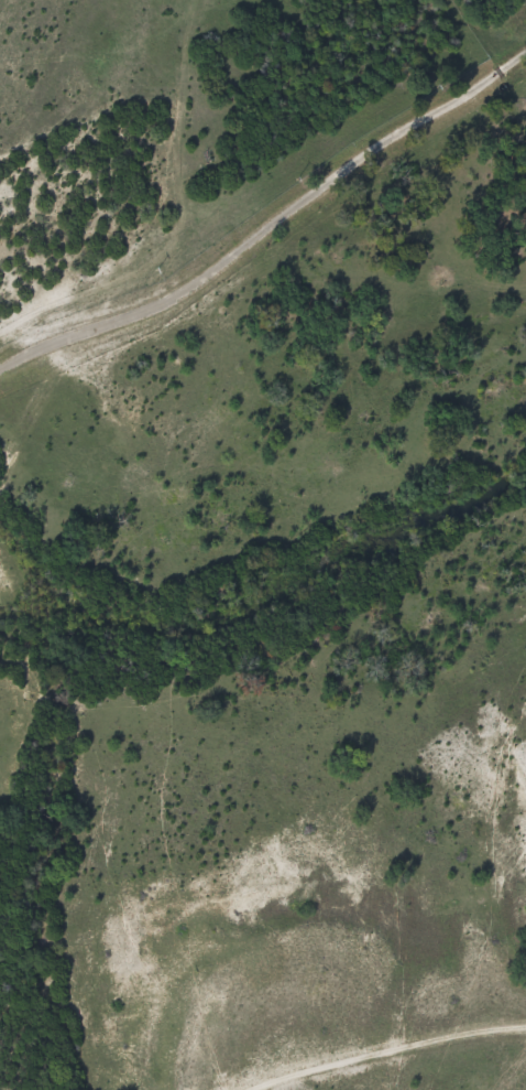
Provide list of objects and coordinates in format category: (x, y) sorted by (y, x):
road: (270, 219)

